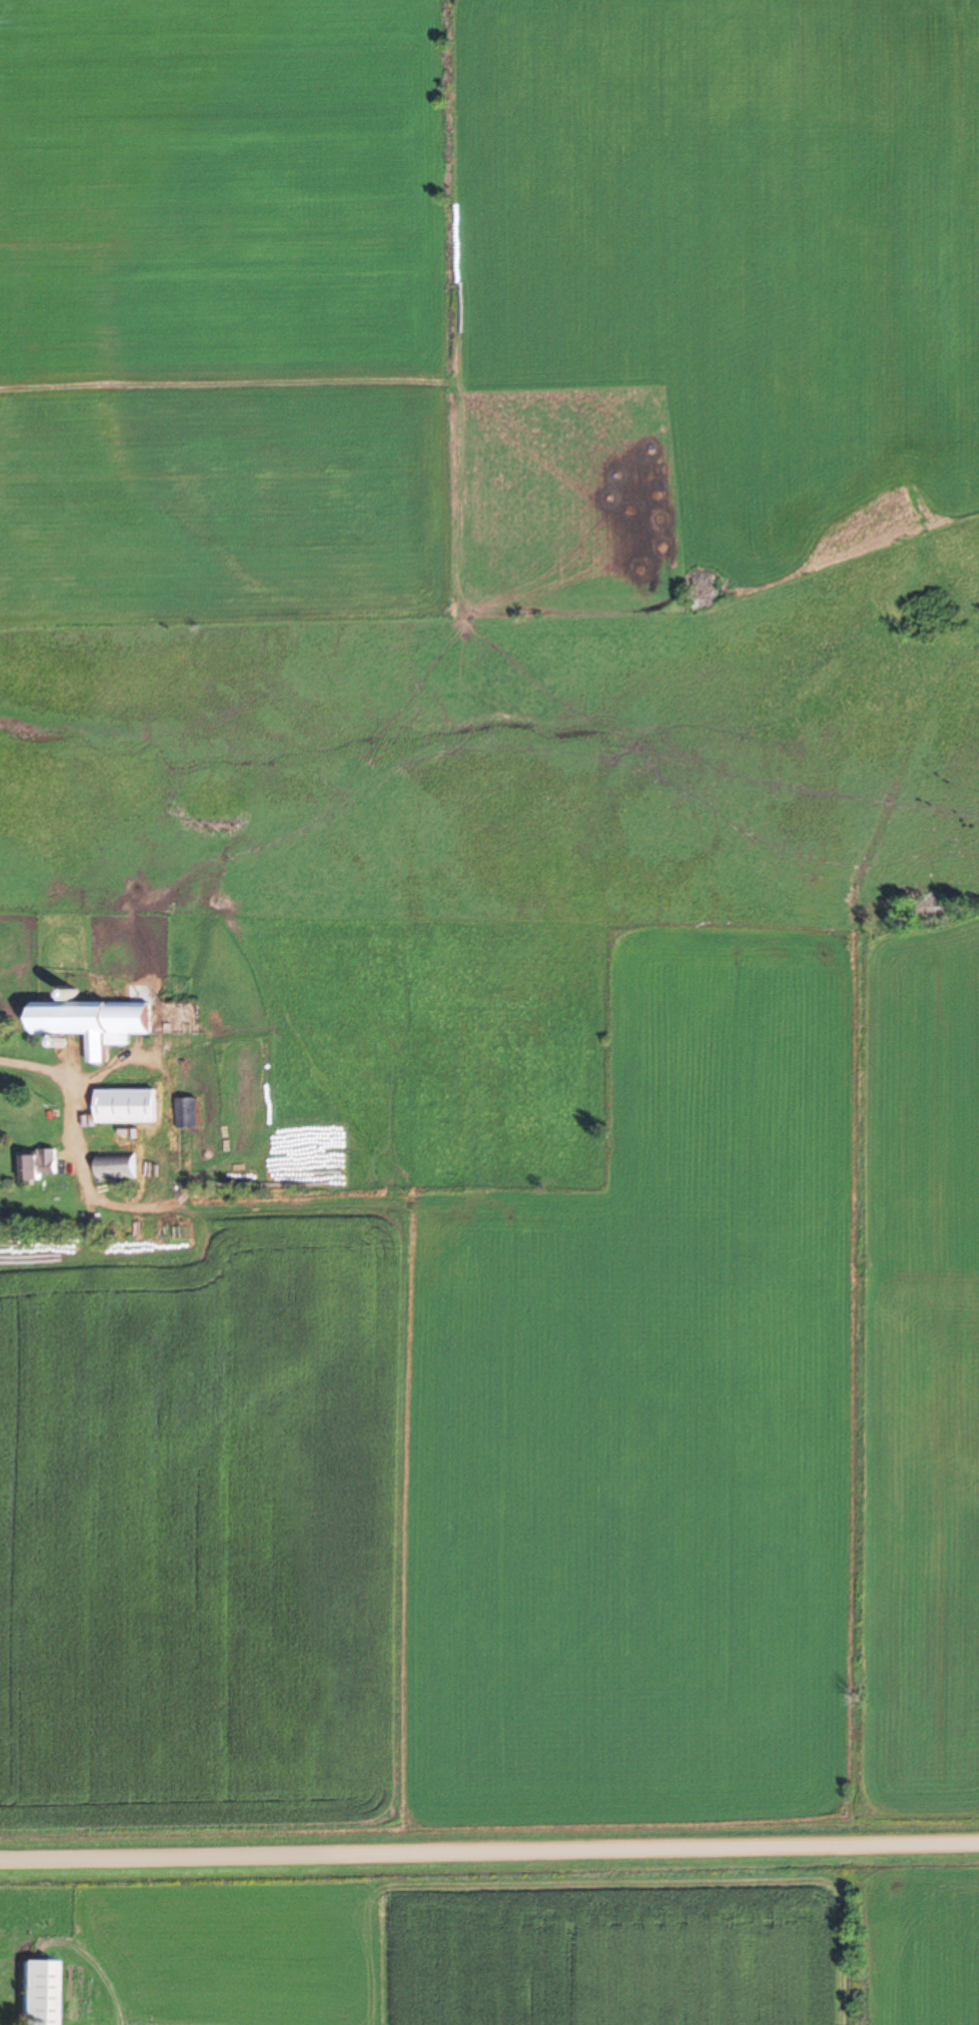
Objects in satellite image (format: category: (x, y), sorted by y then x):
building: (98, 1019)
building: (129, 1104)
building: (190, 1111)
building: (40, 1163)
building: (119, 1165)
road: (489, 1851)
building: (38, 1992)

